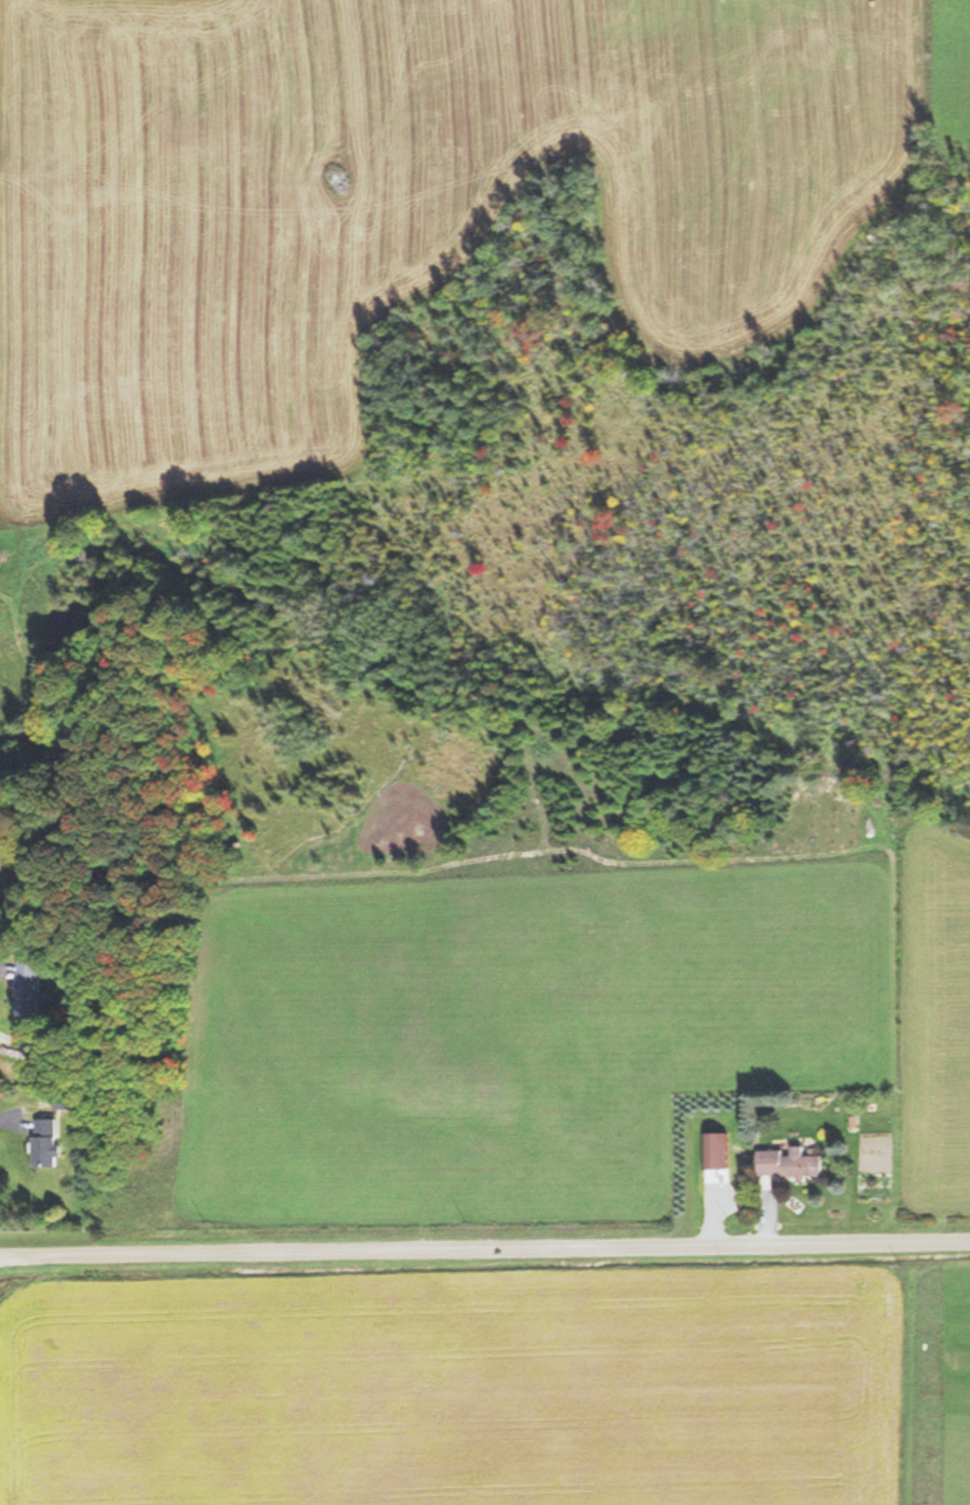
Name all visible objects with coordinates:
building: (28, 990)
building: (43, 1143)
building: (787, 1163)
road: (485, 1246)

